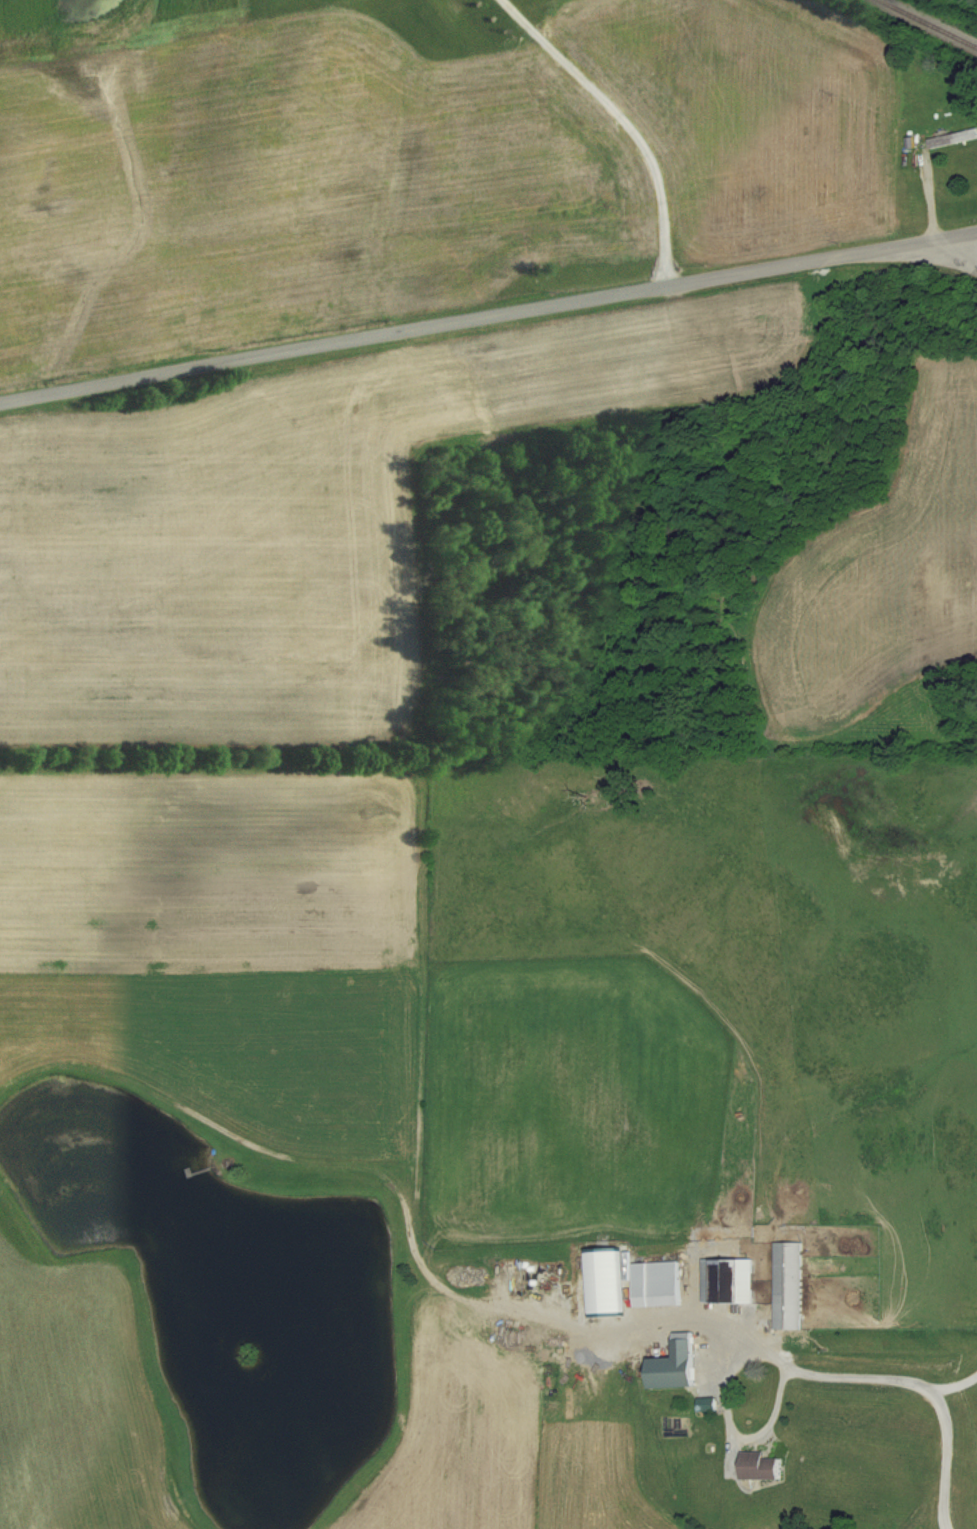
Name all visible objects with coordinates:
railway: (926, 24)
road: (629, 122)
building: (936, 142)
road: (954, 253)
road: (488, 317)
building: (723, 1282)
building: (657, 1284)
building: (788, 1287)
building: (677, 1366)
road: (884, 1373)
road: (725, 1401)
road: (944, 1457)
building: (762, 1469)

